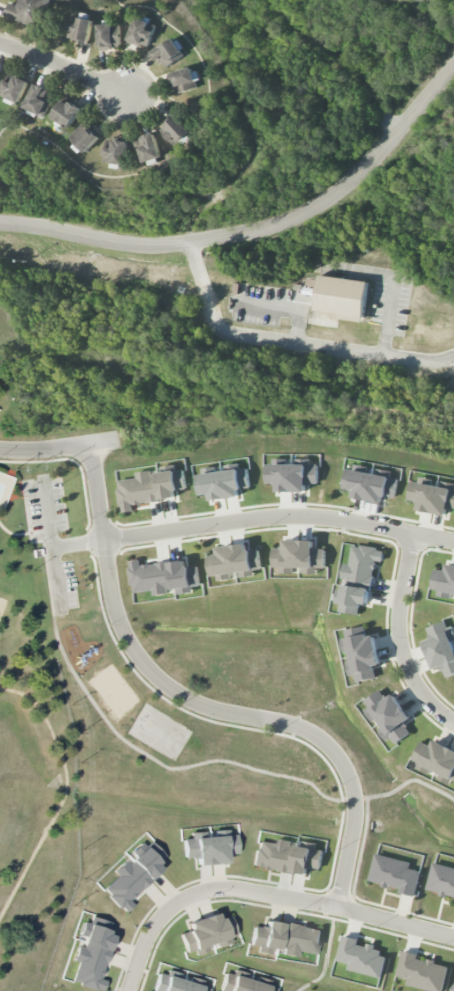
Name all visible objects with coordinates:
building: (26, 11)
building: (80, 30)
building: (141, 33)
building: (168, 54)
road: (65, 69)
building: (183, 81)
building: (14, 88)
building: (39, 101)
building: (66, 113)
building: (176, 132)
building: (85, 137)
building: (148, 148)
building: (116, 153)
road: (258, 228)
building: (341, 298)
road: (290, 342)
road: (59, 448)
building: (291, 476)
building: (223, 483)
building: (369, 484)
building: (150, 487)
building: (432, 497)
road: (279, 517)
parking lot: (54, 539)
road: (78, 545)
road: (52, 546)
building: (298, 557)
building: (233, 560)
building: (162, 577)
building: (357, 579)
building: (444, 580)
road: (401, 637)
building: (441, 648)
building: (360, 654)
park: (113, 693)
road: (203, 708)
building: (388, 716)
park: (158, 734)
building: (436, 761)
road: (217, 763)
building: (209, 847)
building: (287, 857)
building: (394, 875)
building: (134, 876)
building: (441, 880)
road: (266, 894)
building: (206, 933)
building: (285, 939)
building: (92, 954)
building: (361, 957)
building: (421, 973)
building: (177, 984)
building: (244, 984)
building: (453, 990)

